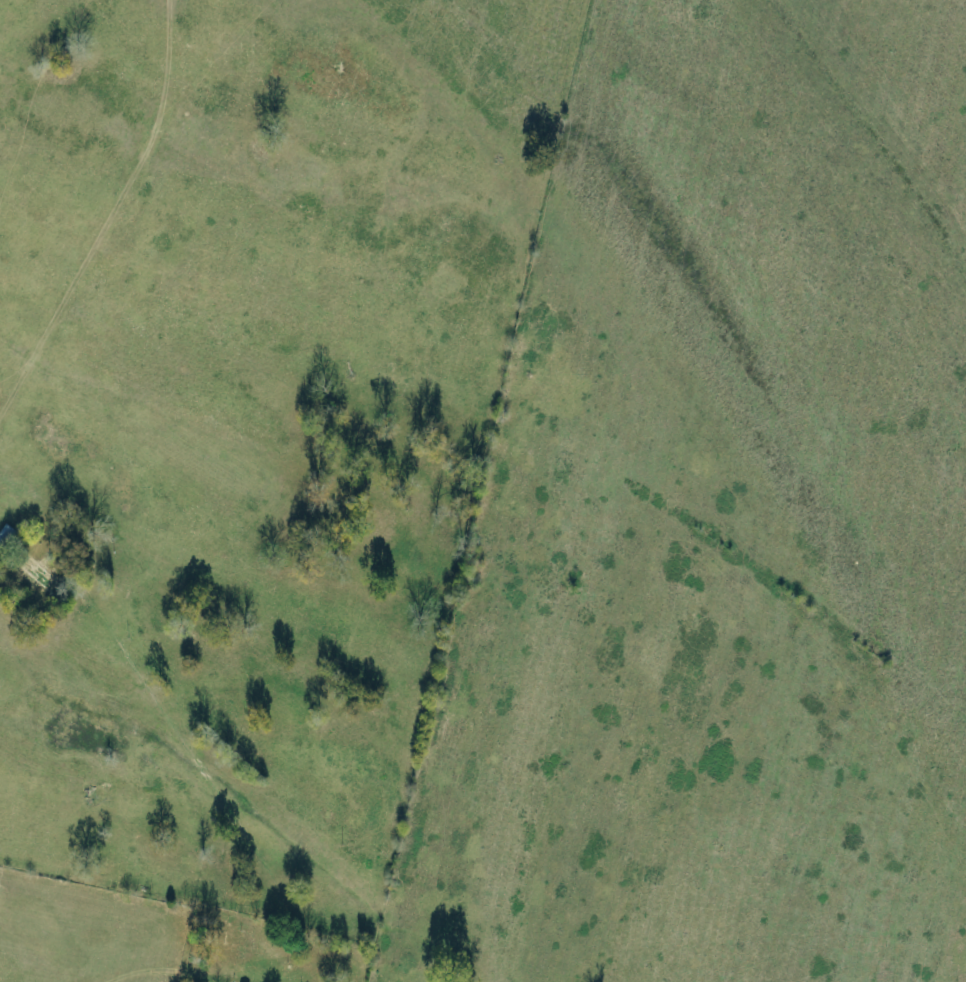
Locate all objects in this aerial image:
road: (139, 962)

